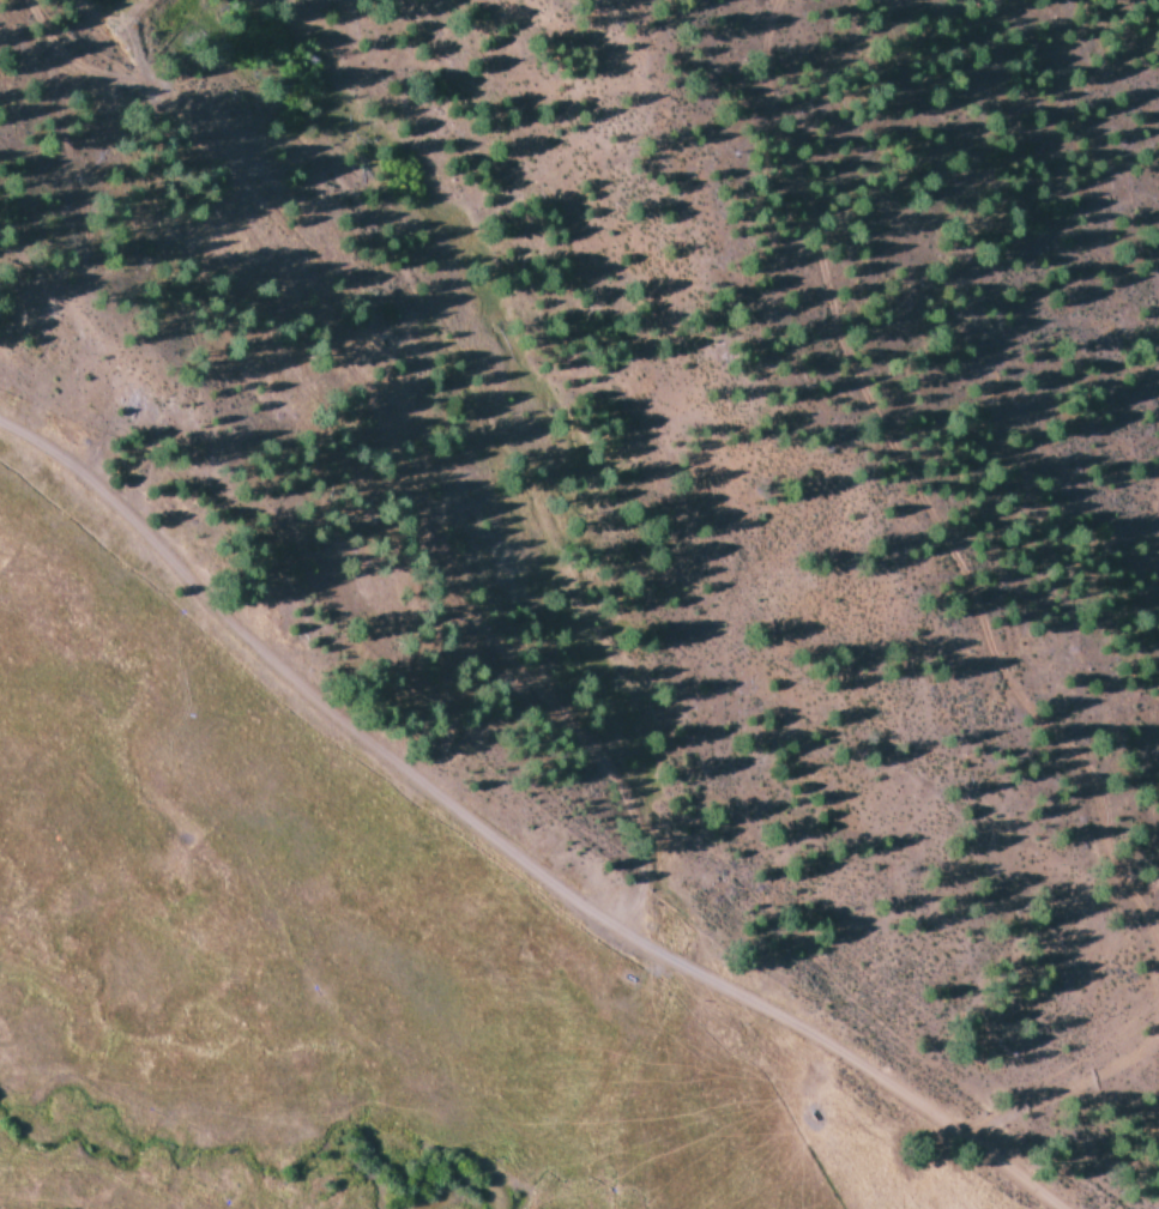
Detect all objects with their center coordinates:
road: (543, 393)
road: (511, 654)
road: (531, 851)

